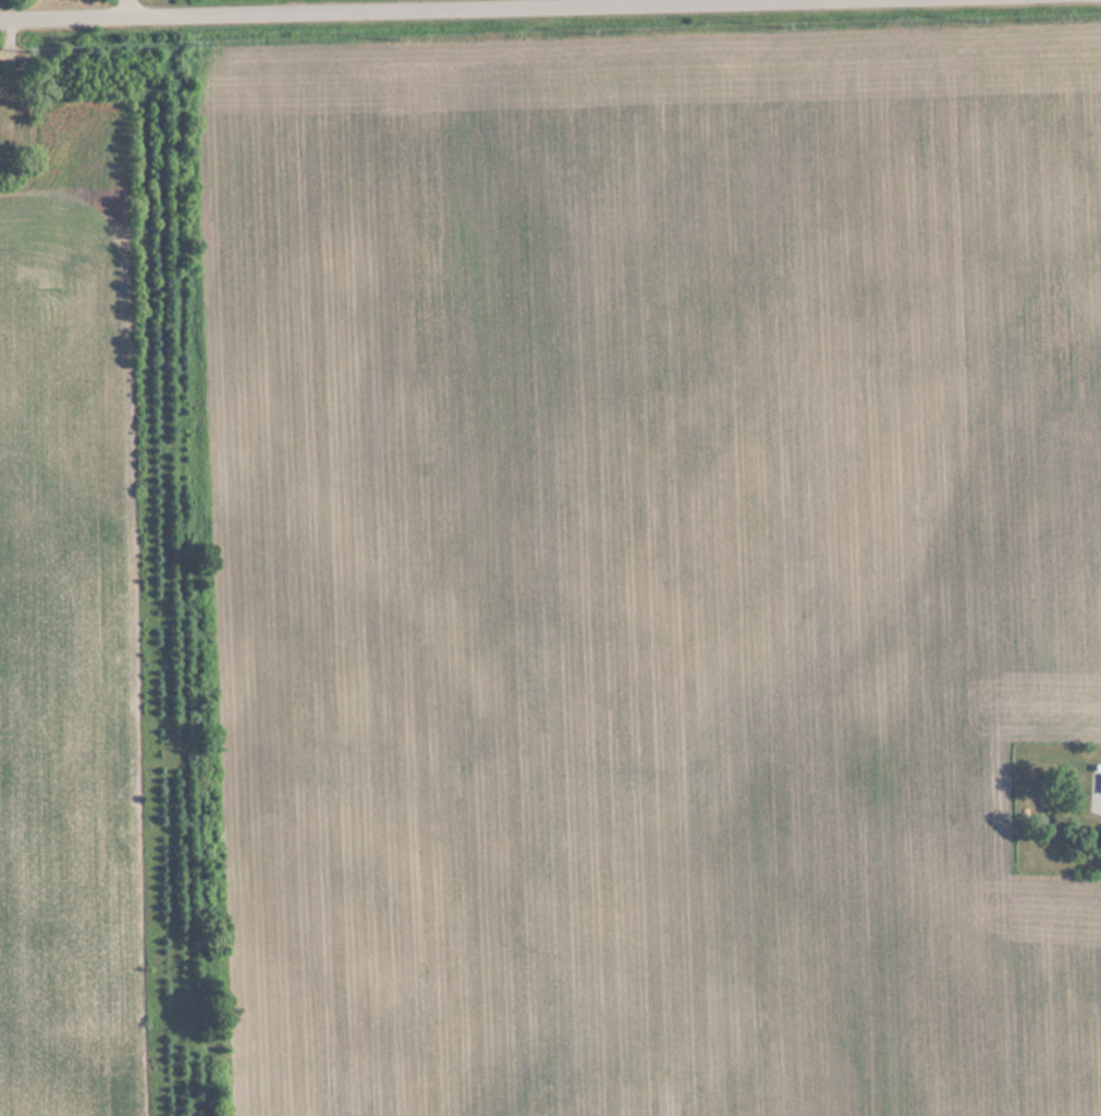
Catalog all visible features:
road: (122, 11)
road: (478, 12)
building: (1100, 779)

